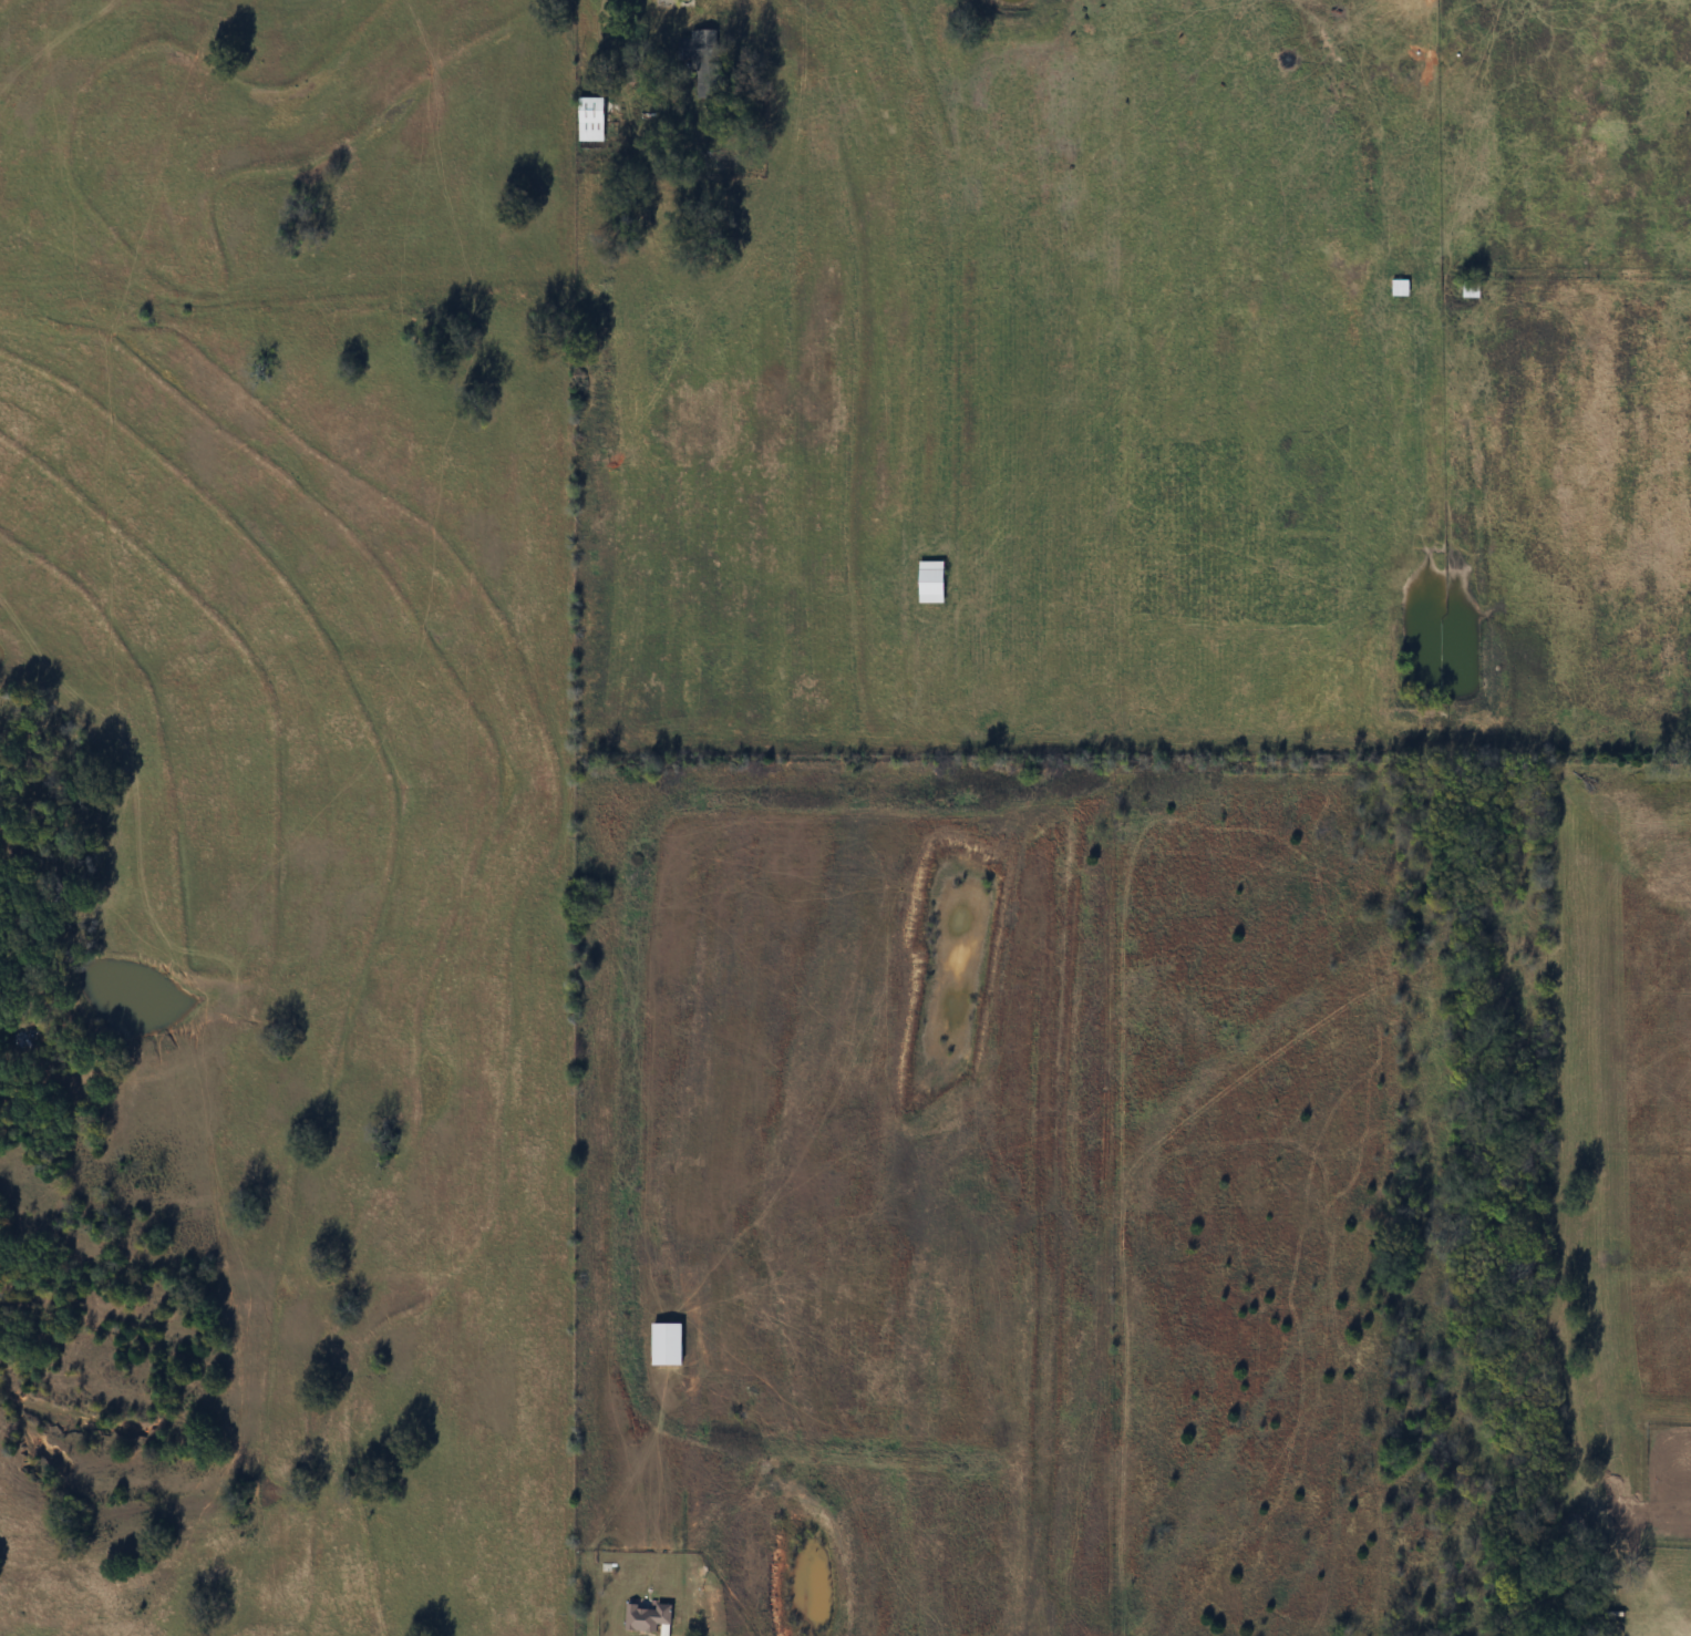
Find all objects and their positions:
road: (606, 24)
building: (701, 55)
building: (591, 119)
building: (1400, 288)
building: (1471, 288)
building: (931, 582)
building: (648, 1617)

